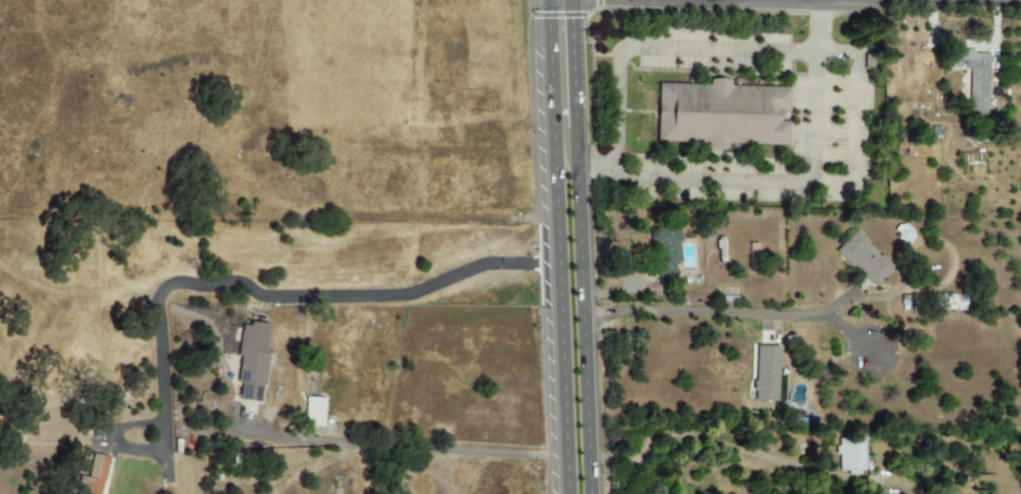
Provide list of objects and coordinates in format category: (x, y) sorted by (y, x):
road: (919, 3)
traffic signals: (579, 28)
road: (580, 63)
road: (817, 66)
building: (973, 78)
road: (858, 94)
building: (721, 114)
road: (554, 246)
building: (665, 251)
building: (863, 259)
building: (950, 302)
road: (590, 310)
road: (718, 311)
building: (251, 361)
building: (765, 373)
building: (313, 412)
road: (173, 427)
road: (396, 444)
road: (749, 450)
building: (851, 455)
building: (91, 476)

